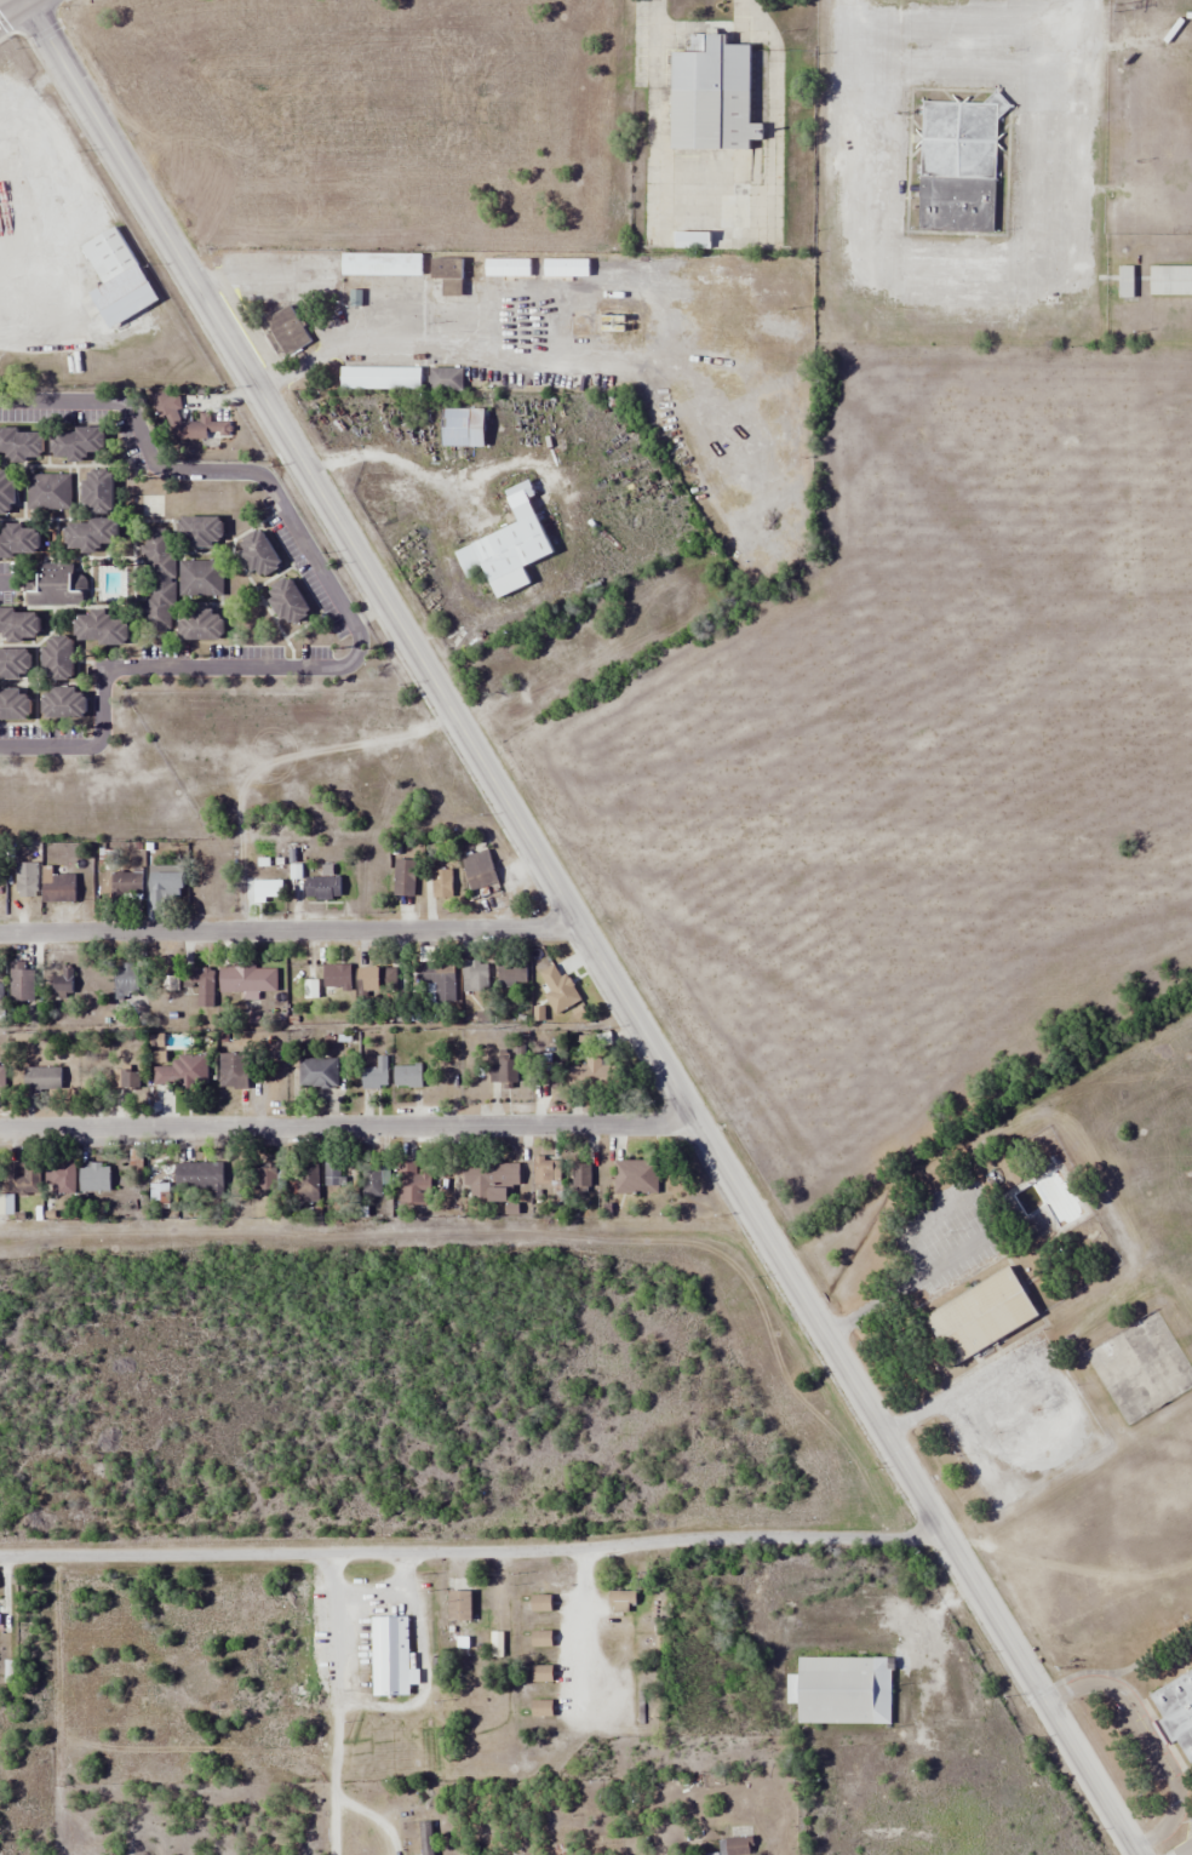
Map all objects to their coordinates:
road: (23, 1)
road: (28, 1)
power tower: (1117, 8)
road: (12, 10)
building: (712, 95)
building: (958, 165)
building: (382, 263)
building: (448, 274)
building: (116, 277)
building: (1170, 280)
building: (1125, 281)
building: (286, 328)
building: (380, 377)
building: (446, 378)
building: (189, 423)
building: (463, 426)
building: (75, 441)
building: (21, 442)
building: (97, 489)
building: (7, 491)
building: (47, 491)
building: (200, 529)
building: (88, 533)
building: (18, 540)
building: (508, 545)
building: (258, 553)
building: (200, 577)
building: (159, 578)
building: (51, 585)
building: (287, 601)
building: (18, 624)
building: (201, 624)
building: (99, 628)
building: (57, 657)
building: (15, 663)
building: (15, 703)
building: (63, 703)
building: (478, 870)
building: (405, 877)
building: (27, 880)
building: (165, 881)
building: (441, 883)
building: (127, 886)
building: (204, 886)
building: (59, 888)
building: (322, 888)
building: (263, 889)
road: (579, 929)
road: (291, 933)
building: (512, 975)
building: (337, 977)
building: (475, 977)
building: (127, 979)
building: (247, 979)
building: (377, 980)
building: (439, 980)
building: (22, 981)
building: (62, 983)
building: (1, 989)
building: (204, 989)
building: (558, 989)
building: (233, 1071)
building: (503, 1071)
building: (182, 1072)
building: (317, 1072)
building: (592, 1072)
building: (376, 1075)
building: (554, 1075)
building: (407, 1076)
building: (1, 1077)
building: (127, 1077)
building: (41, 1080)
road: (348, 1124)
building: (136, 1162)
building: (546, 1170)
building: (333, 1173)
building: (581, 1176)
building: (636, 1176)
building: (59, 1178)
building: (96, 1178)
building: (199, 1178)
building: (267, 1178)
building: (374, 1180)
building: (491, 1180)
building: (21, 1184)
building: (305, 1184)
building: (413, 1184)
building: (159, 1195)
park: (1033, 1267)
building: (981, 1315)
road: (472, 1552)
building: (621, 1598)
building: (541, 1603)
building: (459, 1605)
building: (541, 1638)
building: (390, 1656)
building: (841, 1690)
road: (329, 1704)
building: (543, 1708)
building: (1175, 1712)
building: (738, 1842)

